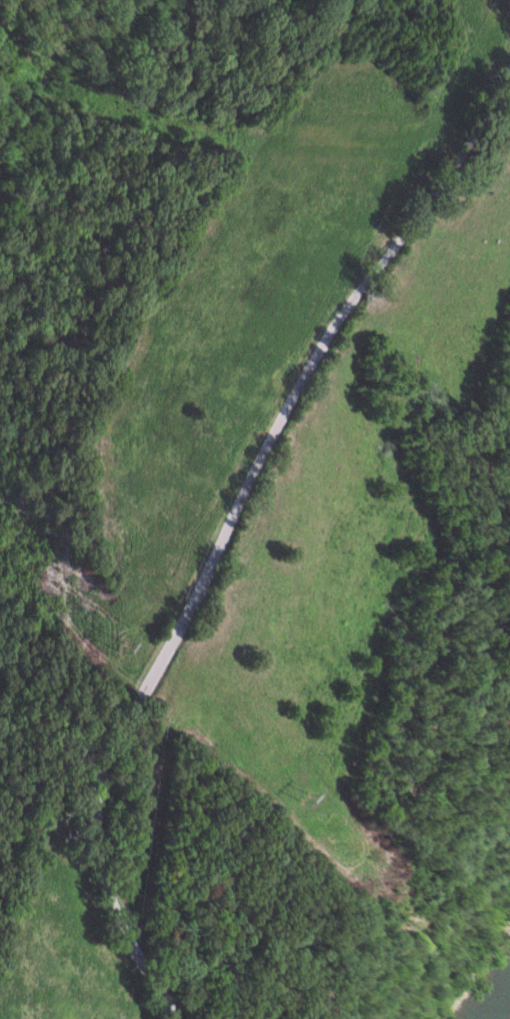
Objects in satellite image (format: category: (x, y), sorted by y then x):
road: (225, 522)
power tower: (120, 647)
power tower: (308, 801)

